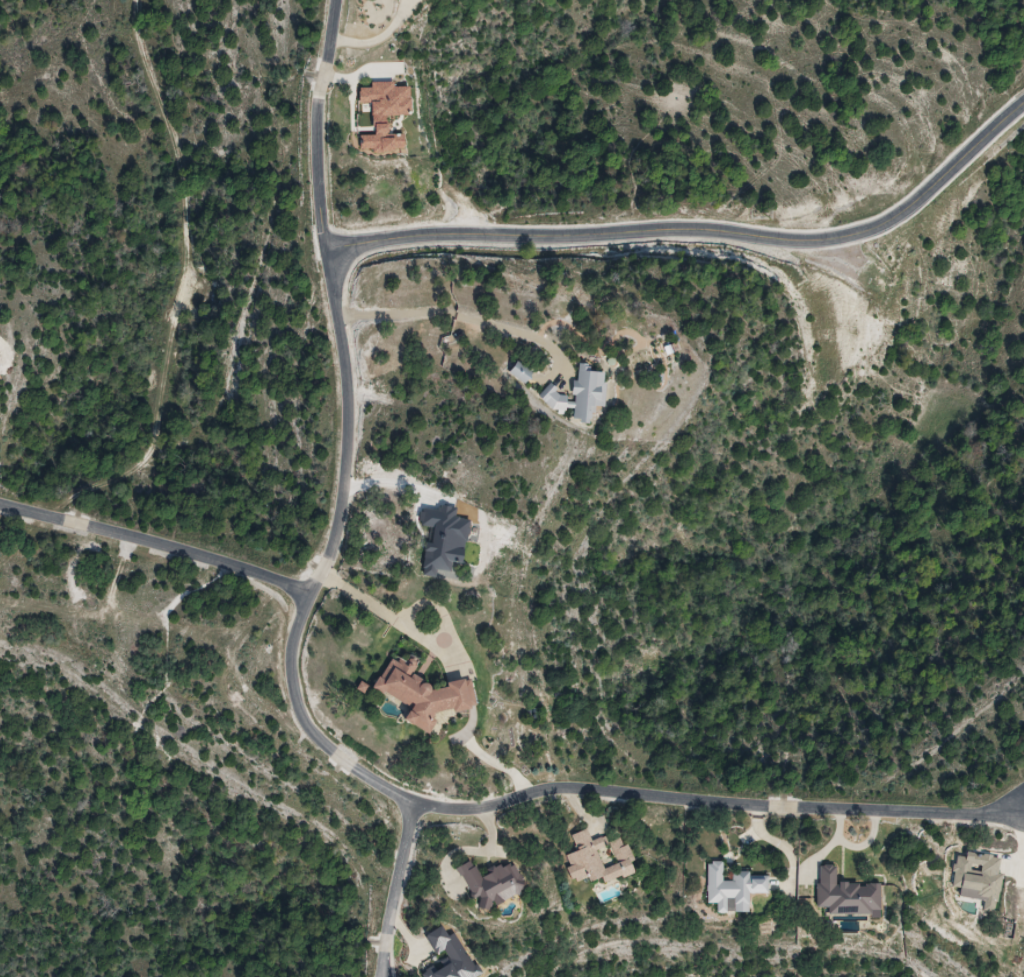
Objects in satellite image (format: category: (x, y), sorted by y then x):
road: (388, 39)
road: (708, 240)
road: (465, 317)
building: (523, 373)
building: (582, 395)
road: (158, 541)
road: (393, 618)
building: (425, 696)
road: (309, 727)
building: (600, 859)
building: (494, 884)
building: (735, 888)
road: (409, 892)
building: (848, 894)

